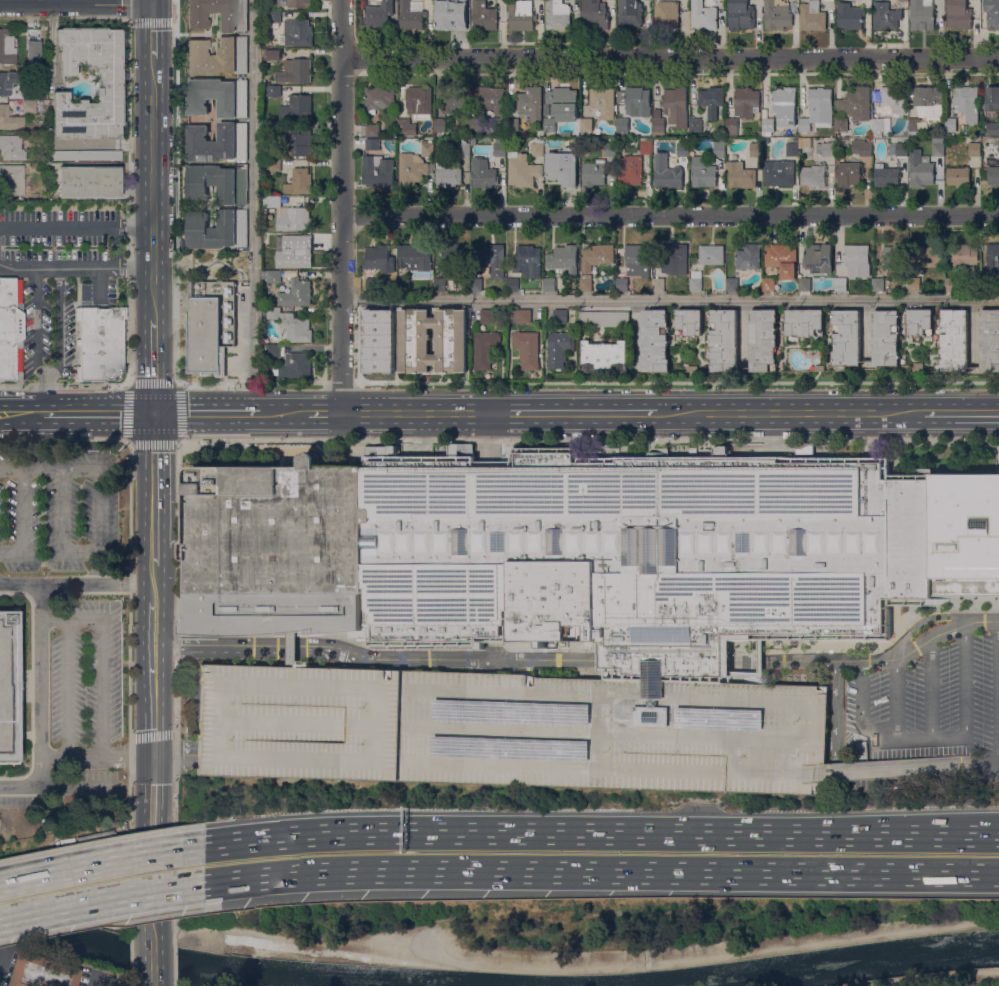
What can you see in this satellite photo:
building: (901, 0)
road: (152, 2)
road: (75, 3)
building: (295, 3)
traffic signals: (152, 4)
building: (219, 14)
building: (450, 14)
building: (557, 14)
building: (629, 14)
building: (667, 14)
building: (777, 14)
building: (921, 14)
building: (992, 14)
building: (376, 15)
building: (411, 15)
building: (483, 15)
building: (521, 15)
building: (594, 15)
building: (741, 15)
building: (958, 15)
building: (703, 16)
building: (812, 16)
building: (849, 16)
building: (886, 16)
building: (272, 17)
road: (142, 18)
building: (31, 33)
road: (152, 34)
building: (293, 34)
building: (7, 46)
building: (274, 53)
building: (217, 56)
road: (670, 57)
building: (294, 71)
building: (7, 81)
building: (108, 85)
building: (274, 91)
building: (218, 97)
building: (377, 99)
building: (992, 99)
building: (418, 100)
building: (492, 101)
building: (635, 101)
building: (711, 101)
building: (452, 102)
building: (603, 102)
building: (746, 102)
building: (929, 102)
building: (563, 103)
building: (530, 104)
building: (28, 106)
building: (676, 106)
building: (785, 106)
building: (297, 108)
building: (852, 108)
building: (887, 108)
building: (963, 108)
building: (817, 110)
building: (10, 118)
building: (442, 124)
building: (549, 124)
building: (586, 124)
building: (695, 124)
building: (476, 125)
building: (512, 125)
building: (406, 126)
building: (622, 126)
building: (767, 126)
building: (914, 126)
building: (658, 127)
building: (732, 127)
building: (275, 128)
building: (993, 129)
building: (372, 130)
building: (904, 133)
building: (486, 139)
building: (472, 140)
building: (218, 142)
building: (295, 143)
building: (805, 143)
building: (374, 144)
building: (998, 144)
building: (646, 146)
building: (937, 146)
building: (11, 147)
building: (499, 147)
building: (537, 147)
building: (683, 147)
building: (719, 147)
building: (861, 147)
building: (426, 148)
building: (463, 148)
building: (573, 149)
building: (609, 149)
building: (755, 149)
building: (792, 149)
building: (825, 149)
building: (901, 149)
building: (974, 149)
building: (84, 154)
building: (272, 165)
building: (378, 170)
building: (410, 170)
building: (522, 170)
building: (629, 170)
building: (920, 170)
building: (666, 172)
building: (594, 173)
building: (702, 173)
building: (777, 173)
building: (447, 174)
building: (483, 174)
building: (557, 174)
building: (848, 174)
building: (740, 175)
building: (818, 176)
building: (885, 176)
building: (958, 176)
building: (993, 176)
building: (11, 180)
building: (89, 181)
building: (299, 182)
building: (218, 183)
road: (153, 190)
road: (176, 192)
road: (129, 200)
road: (254, 206)
road: (341, 206)
building: (185, 207)
building: (289, 215)
road: (670, 215)
road: (77, 227)
building: (219, 229)
building: (274, 238)
road: (117, 247)
building: (297, 255)
building: (712, 255)
building: (450, 256)
building: (894, 256)
building: (379, 257)
building: (415, 257)
building: (596, 257)
building: (748, 257)
building: (926, 257)
building: (964, 257)
building: (563, 258)
building: (818, 258)
building: (993, 258)
building: (494, 259)
building: (676, 260)
building: (782, 260)
building: (527, 261)
building: (637, 261)
building: (857, 261)
road: (76, 267)
building: (274, 276)
parking lot: (59, 280)
building: (695, 281)
building: (586, 283)
building: (438, 284)
building: (476, 284)
building: (512, 284)
building: (549, 284)
building: (659, 284)
building: (732, 284)
building: (768, 284)
building: (804, 284)
building: (840, 284)
building: (878, 284)
building: (914, 284)
building: (951, 284)
building: (622, 285)
building: (708, 292)
building: (715, 292)
building: (296, 293)
building: (767, 294)
road: (670, 299)
building: (521, 315)
building: (487, 316)
building: (560, 316)
building: (604, 319)
road: (37, 321)
road: (58, 321)
building: (805, 322)
building: (920, 322)
building: (689, 323)
building: (291, 325)
power substation: (209, 327)
building: (11, 328)
building: (886, 337)
building: (205, 338)
building: (846, 339)
building: (380, 340)
building: (724, 340)
building: (763, 340)
building: (990, 340)
building: (656, 341)
building: (954, 341)
building: (100, 343)
building: (415, 347)
building: (485, 349)
building: (527, 349)
building: (559, 349)
building: (276, 350)
building: (604, 357)
road: (154, 365)
building: (295, 367)
building: (918, 367)
building: (820, 368)
building: (692, 369)
road: (676, 382)
road: (250, 383)
road: (340, 383)
road: (175, 384)
road: (64, 385)
road: (46, 392)
road: (962, 412)
road: (89, 413)
traffic signals: (154, 413)
road: (204, 413)
road: (276, 413)
road: (319, 413)
road: (426, 413)
road: (585, 413)
road: (793, 413)
road: (13, 414)
road: (491, 440)
building: (805, 449)
building: (693, 451)
road: (100, 478)
road: (154, 480)
road: (24, 520)
road: (61, 529)
building: (587, 553)
road: (154, 558)
road: (154, 577)
road: (77, 584)
road: (154, 594)
road: (67, 619)
road: (154, 625)
road: (177, 647)
road: (291, 649)
road: (579, 661)
parking lot: (86, 673)
building: (8, 685)
road: (104, 685)
road: (69, 687)
road: (129, 689)
road: (931, 689)
road: (176, 696)
road: (154, 700)
road: (896, 700)
road: (41, 705)
road: (808, 720)
road: (837, 722)
road: (282, 723)
building: (509, 730)
parking lot: (509, 730)
road: (172, 733)
road: (928, 739)
road: (832, 742)
road: (182, 755)
traffic signals: (154, 756)
road: (97, 757)
road: (363, 761)
building: (907, 763)
road: (501, 766)
road: (628, 769)
road: (854, 770)
road: (77, 786)
building: (53, 812)
road: (600, 834)
building: (97, 836)
road: (154, 847)
road: (174, 858)
road: (101, 861)
road: (600, 872)
road: (100, 899)
road: (301, 941)
road: (709, 954)
road: (131, 955)
road: (154, 960)
road: (173, 964)
river: (831, 965)
river: (205, 966)
building: (42, 971)
road: (935, 978)
road: (131, 981)
road: (154, 983)

